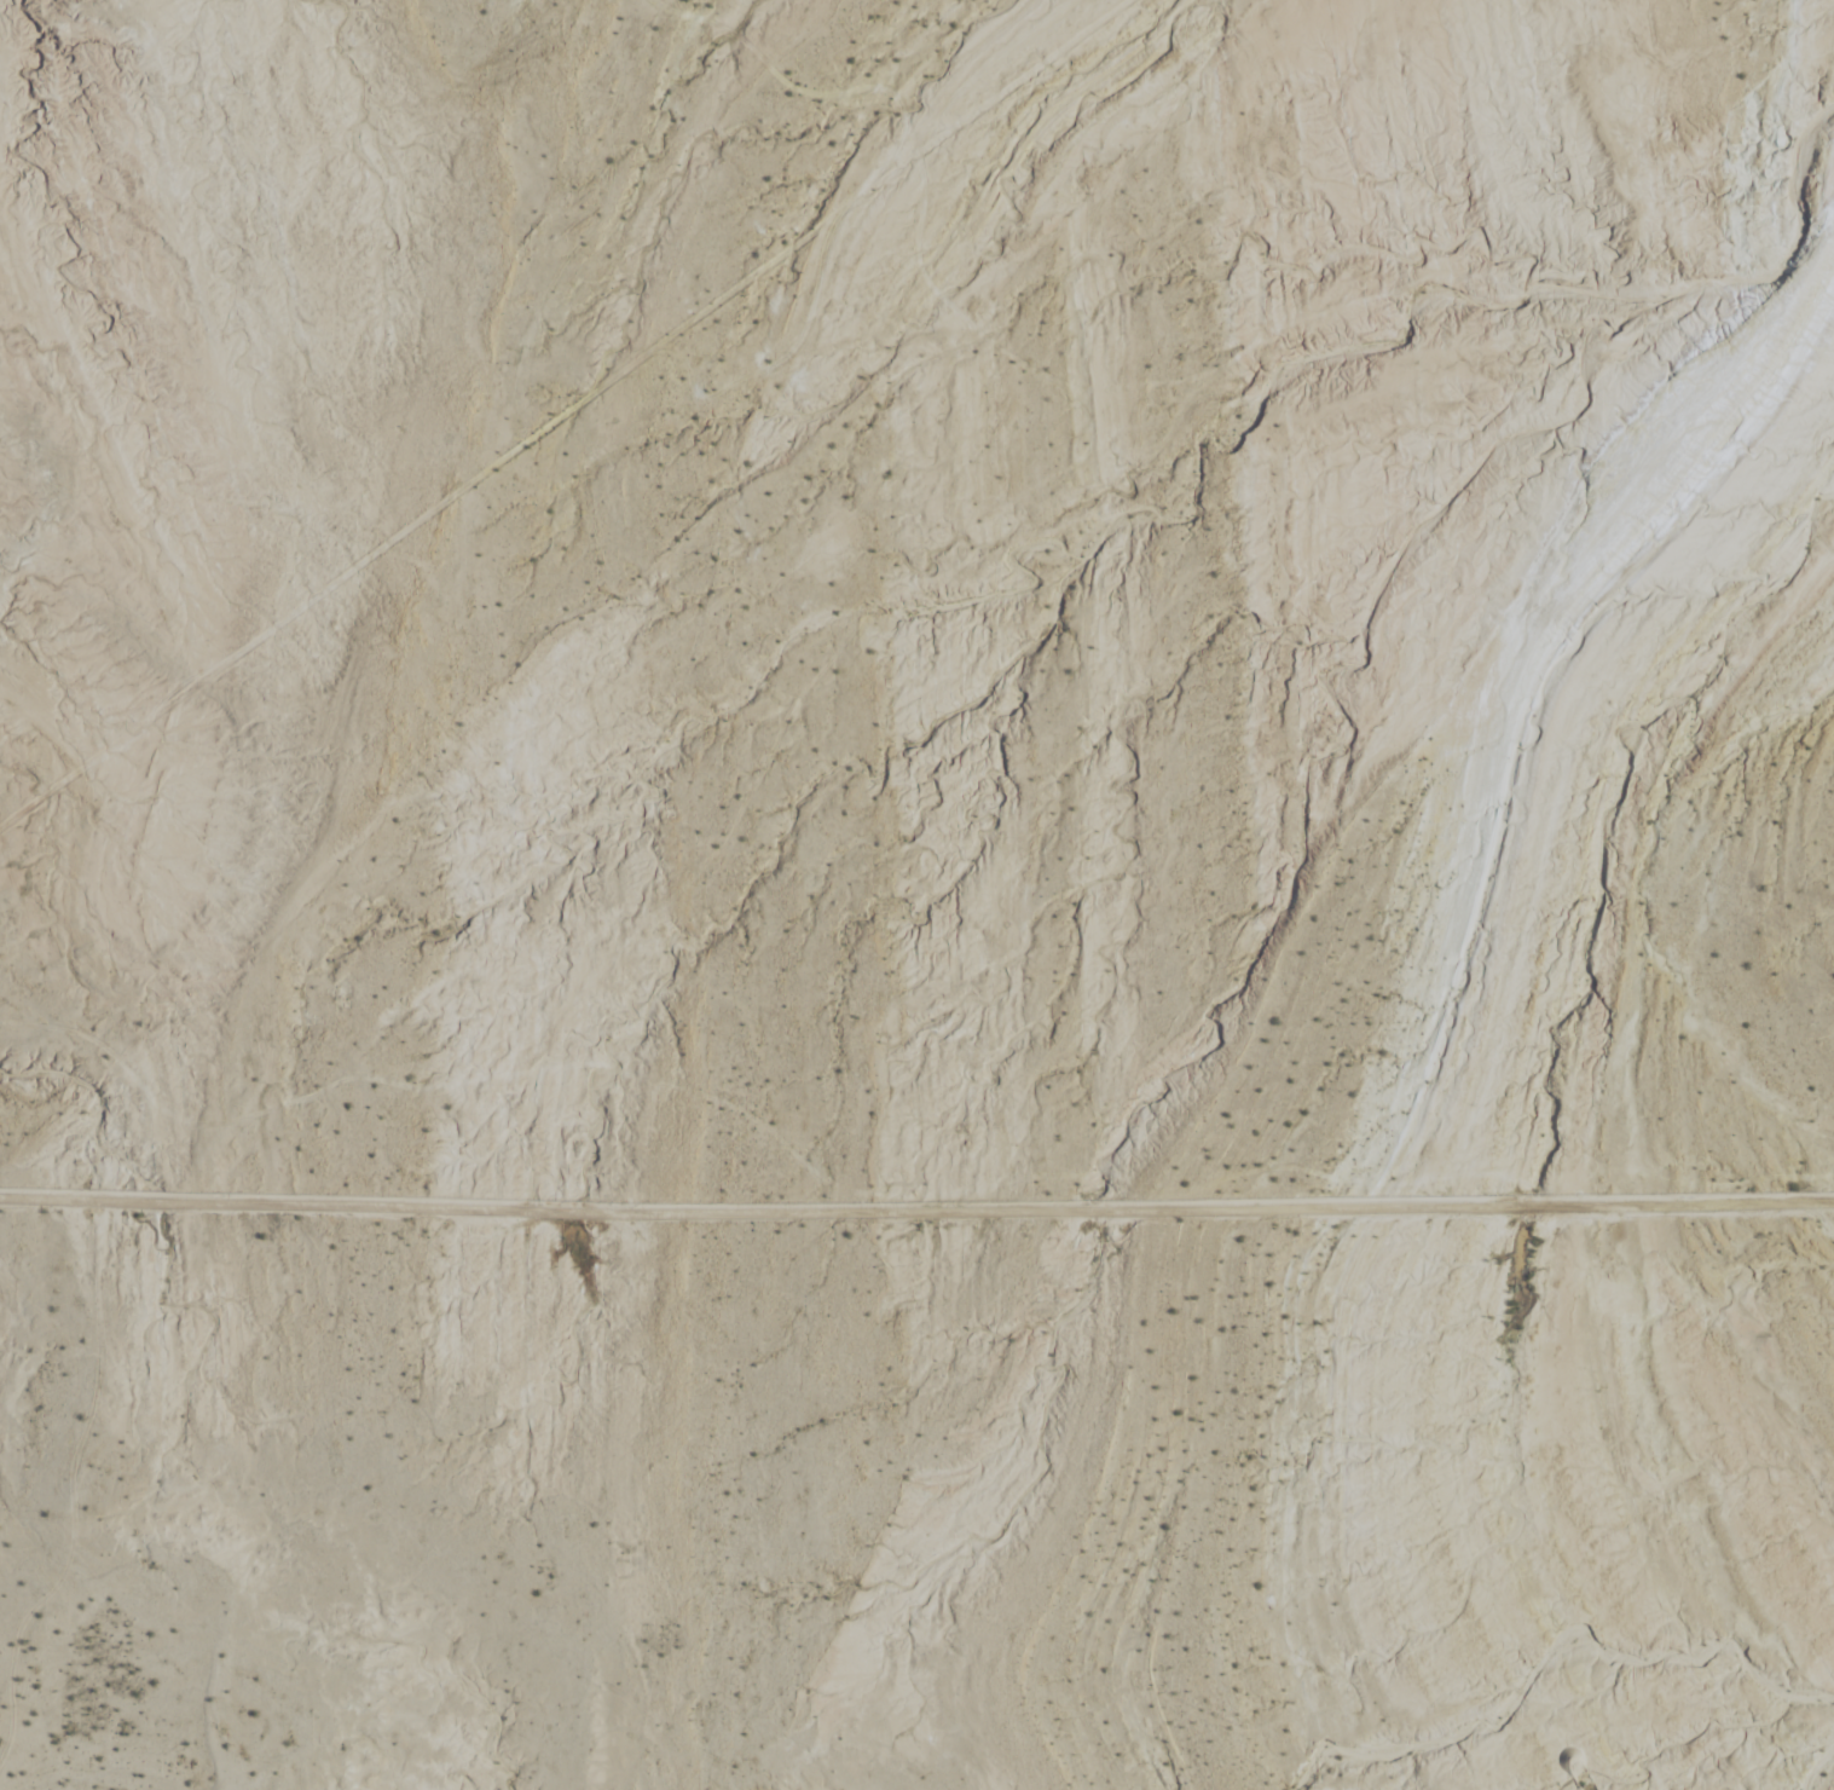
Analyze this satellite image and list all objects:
landfill: (913, 1496)

